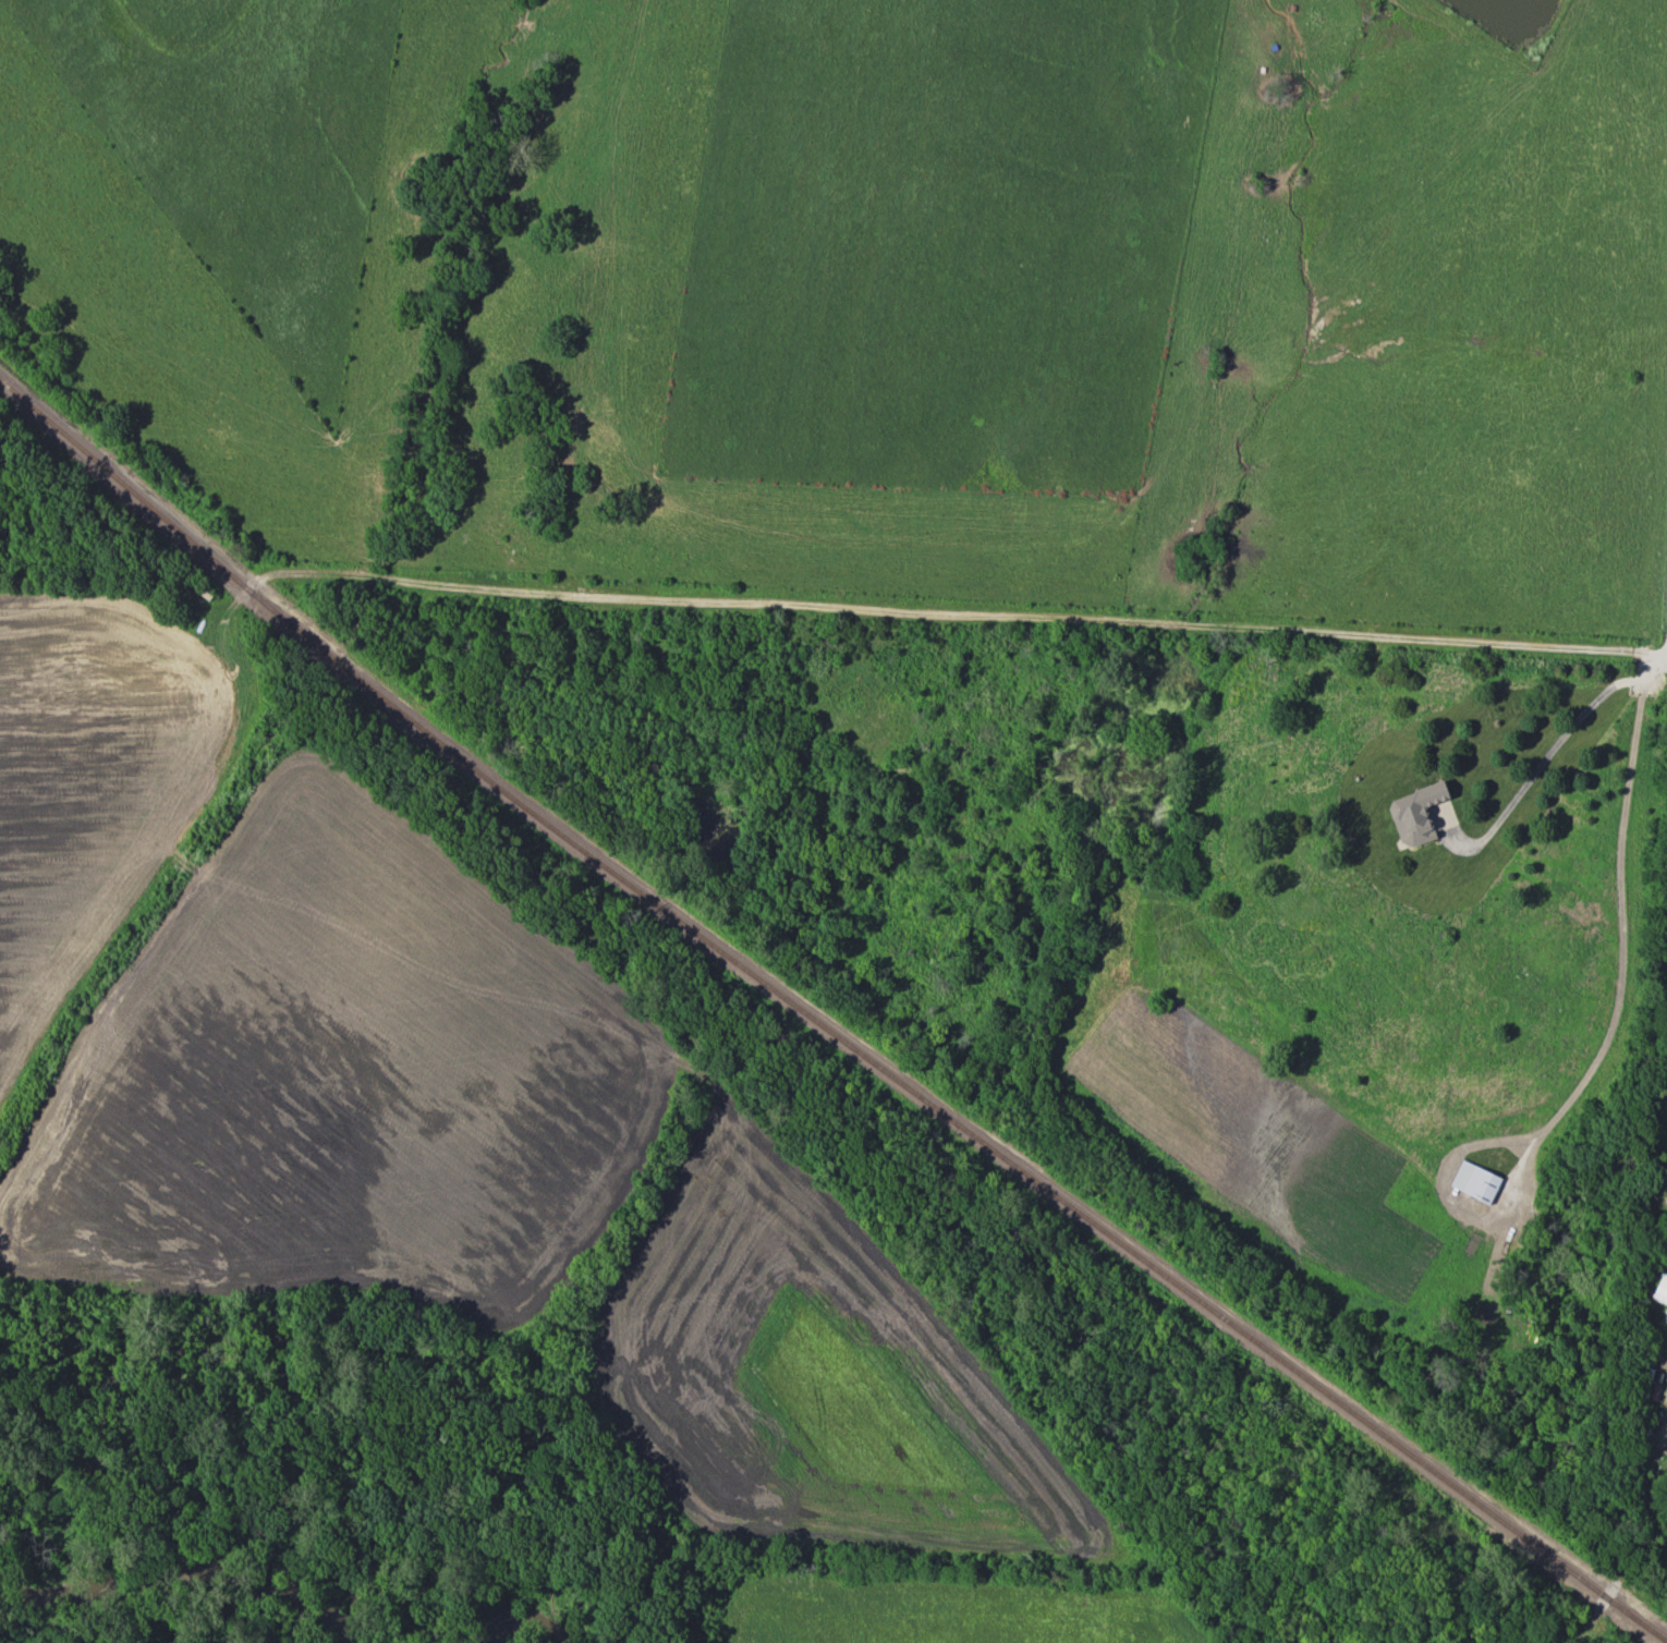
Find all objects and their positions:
road: (1001, 621)
road: (1550, 756)
building: (1415, 814)
road: (1620, 927)
railway: (823, 1024)
building: (1475, 1182)
building: (1666, 1182)
building: (1660, 1290)

